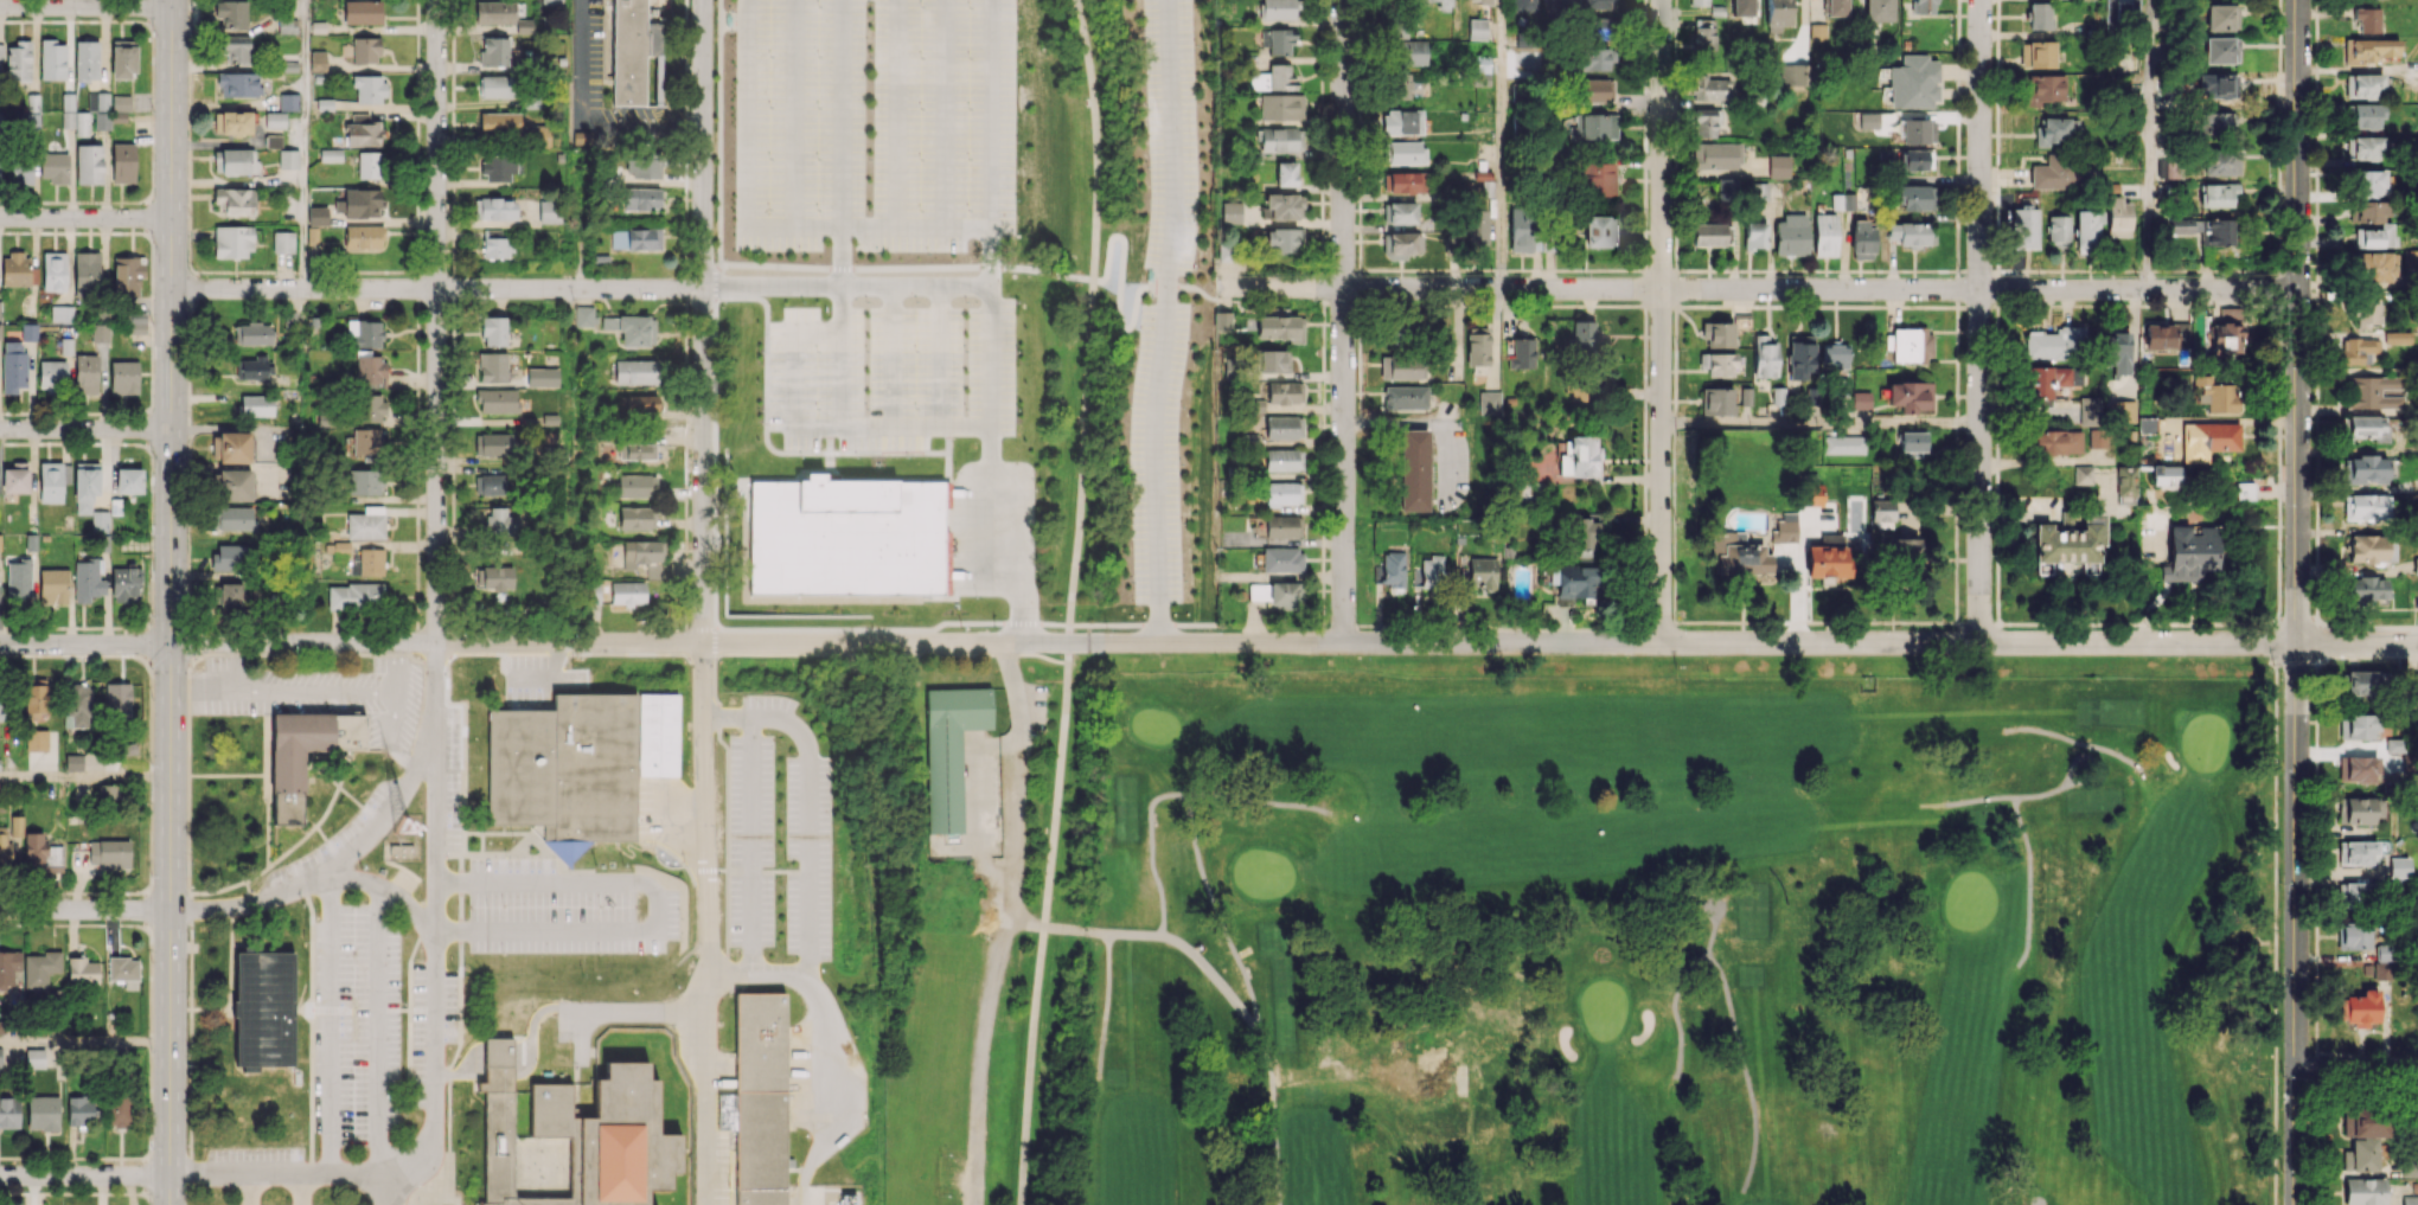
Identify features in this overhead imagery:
building: (551, 1)
building: (1431, 1)
building: (1483, 1)
building: (1699, 2)
building: (1594, 4)
road: (85, 5)
building: (1521, 5)
building: (1926, 6)
building: (1742, 7)
building: (1836, 7)
building: (1278, 9)
building: (1879, 11)
building: (362, 12)
building: (494, 12)
building: (231, 13)
building: (1778, 14)
building: (2115, 14)
building: (2038, 15)
building: (2220, 17)
building: (728, 19)
building: (2367, 19)
building: (287, 26)
building: (1477, 28)
building: (1597, 28)
building: (1817, 32)
building: (1702, 39)
building: (1280, 40)
building: (236, 50)
building: (365, 50)
building: (2220, 50)
building: (2368, 50)
building: (493, 51)
building: (631, 51)
building: (1409, 52)
building: (2036, 53)
building: (123, 58)
building: (52, 59)
building: (1592, 59)
building: (19, 60)
building: (87, 60)
building: (318, 60)
building: (1482, 63)
road: (582, 64)
building: (1792, 73)
building: (1273, 78)
building: (1913, 83)
building: (238, 84)
building: (494, 85)
building: (1401, 85)
building: (2216, 85)
building: (2363, 86)
building: (369, 88)
building: (1709, 89)
building: (2042, 89)
building: (1594, 90)
building: (288, 101)
building: (1281, 107)
building: (98, 109)
building: (32, 111)
road: (747, 113)
road: (793, 113)
road: (896, 114)
road: (942, 114)
building: (2365, 115)
building: (275, 120)
building: (232, 122)
building: (1402, 122)
building: (82, 123)
building: (499, 123)
parking lot: (874, 123)
building: (1704, 123)
building: (2215, 123)
road: (648, 126)
building: (1593, 127)
road: (719, 129)
building: (2055, 130)
building: (1918, 132)
building: (363, 134)
building: (538, 135)
building: (583, 137)
building: (1280, 139)
building: (273, 141)
road: (840, 142)
road: (1502, 143)
road: (305, 145)
road: (2148, 145)
building: (2363, 147)
building: (1403, 152)
building: (330, 154)
building: (1716, 155)
building: (288, 159)
building: (238, 161)
building: (123, 162)
building: (2220, 162)
building: (89, 164)
building: (367, 165)
building: (645, 165)
building: (1778, 166)
building: (55, 167)
building: (497, 167)
building: (2167, 167)
building: (21, 172)
building: (1286, 173)
building: (2051, 173)
building: (1599, 180)
building: (1401, 181)
building: (2367, 182)
building: (1727, 190)
building: (1758, 191)
building: (2216, 194)
building: (641, 197)
building: (1914, 197)
building: (236, 200)
building: (1843, 201)
building: (359, 203)
building: (1285, 205)
building: (494, 209)
building: (549, 211)
building: (1230, 211)
building: (2368, 211)
building: (1399, 212)
building: (316, 216)
building: (2117, 217)
road: (85, 218)
building: (1476, 226)
building: (2180, 226)
road: (868, 227)
building: (2024, 227)
building: (2086, 229)
building: (1523, 230)
building: (2058, 230)
building: (1599, 231)
building: (2214, 231)
road: (990, 232)
building: (1908, 232)
building: (1707, 235)
building: (1754, 235)
building: (1790, 235)
building: (1825, 235)
building: (2374, 236)
building: (363, 237)
building: (635, 238)
building: (1861, 238)
building: (232, 241)
building: (282, 241)
building: (1282, 241)
building: (494, 244)
building: (1400, 244)
building: (2410, 258)
building: (2373, 265)
road: (904, 267)
building: (17, 268)
building: (53, 270)
building: (85, 273)
building: (1151, 274)
building: (128, 275)
road: (715, 280)
road: (1755, 288)
road: (584, 289)
road: (1223, 297)
parking lot: (1163, 302)
building: (60, 312)
building: (2368, 312)
building: (584, 315)
road: (1118, 315)
road: (703, 320)
road: (1089, 320)
road: (1163, 320)
road: (1342, 320)
road: (436, 321)
road: (1662, 321)
road: (1979, 321)
building: (1280, 327)
building: (632, 328)
building: (28, 331)
building: (493, 331)
building: (1401, 331)
building: (2227, 332)
building: (255, 333)
building: (364, 333)
building: (100, 334)
building: (1717, 334)
building: (2166, 335)
building: (1582, 336)
building: (2397, 338)
building: (2055, 342)
building: (1911, 345)
building: (1477, 346)
building: (2358, 350)
building: (1520, 353)
building: (2116, 353)
road: (792, 354)
road: (840, 354)
building: (1835, 354)
road: (891, 355)
road: (939, 355)
building: (1799, 355)
building: (1764, 357)
building: (1273, 360)
building: (1721, 365)
building: (492, 366)
building: (13, 367)
building: (369, 367)
building: (1402, 367)
building: (255, 368)
building: (635, 371)
building: (85, 373)
parking lot: (890, 374)
building: (52, 376)
building: (123, 377)
building: (542, 377)
building: (2052, 379)
building: (1284, 392)
building: (2372, 392)
building: (1576, 393)
building: (2216, 395)
building: (1910, 396)
building: (1405, 397)
building: (1860, 399)
building: (497, 400)
building: (1716, 400)
building: (1489, 402)
building: (256, 405)
building: (637, 405)
building: (1253, 405)
building: (372, 408)
building: (2088, 411)
building: (2120, 411)
road: (1426, 421)
road: (1821, 424)
building: (2145, 424)
road: (890, 425)
building: (1282, 427)
building: (2367, 427)
road: (84, 428)
building: (2213, 436)
building: (2055, 441)
building: (1912, 442)
building: (369, 443)
building: (494, 443)
building: (1844, 444)
building: (234, 447)
building: (637, 450)
road: (715, 453)
road: (830, 455)
building: (1579, 456)
building: (1282, 460)
road: (2042, 460)
building: (2367, 468)
building: (1413, 469)
building: (2083, 474)
building: (2166, 475)
building: (829, 477)
building: (15, 479)
road: (845, 479)
building: (128, 480)
building: (364, 481)
building: (51, 482)
building: (85, 485)
building: (234, 485)
building: (490, 485)
building: (2125, 485)
building: (637, 486)
building: (2244, 491)
building: (1282, 493)
building: (1812, 495)
building: (2366, 507)
building: (1881, 513)
building: (236, 518)
building: (637, 518)
building: (100, 520)
building: (499, 523)
building: (365, 524)
building: (1282, 526)
building: (1785, 527)
building: (1584, 537)
building: (846, 538)
building: (2071, 541)
building: (2369, 549)
building: (2189, 553)
building: (1736, 555)
building: (644, 557)
road: (999, 557)
building: (229, 558)
building: (1281, 559)
building: (1827, 560)
building: (370, 562)
building: (2416, 565)
building: (2058, 568)
building: (1393, 570)
building: (1429, 571)
building: (1482, 572)
building: (491, 577)
building: (19, 579)
building: (87, 581)
building: (1572, 582)
building: (124, 584)
building: (52, 585)
building: (2367, 589)
building: (627, 592)
building: (230, 594)
building: (1284, 595)
building: (354, 596)
road: (171, 602)
road: (2298, 602)
road: (1810, 623)
road: (2347, 629)
road: (1293, 641)
road: (85, 645)
traffic signals: (171, 645)
road: (1005, 648)
road: (570, 654)
road: (314, 655)
road: (740, 655)
road: (565, 659)
road: (232, 668)
road: (396, 668)
parking lot: (537, 677)
road: (531, 678)
building: (2361, 684)
road: (313, 694)
building: (117, 698)
parking lot: (321, 698)
building: (36, 703)
building: (77, 704)
road: (188, 718)
road: (701, 720)
building: (2356, 726)
park: (1154, 731)
road: (268, 735)
building: (655, 735)
road: (392, 737)
road: (2059, 737)
building: (36, 739)
park: (2203, 742)
building: (308, 743)
building: (127, 749)
building: (952, 750)
building: (359, 755)
building: (72, 762)
parking lot: (449, 765)
road: (345, 768)
building: (564, 768)
building: (2358, 768)
road: (322, 774)
road: (229, 776)
road: (85, 777)
road: (485, 790)
building: (107, 793)
road: (435, 795)
road: (1171, 796)
road: (669, 797)
road: (2003, 797)
road: (807, 805)
road: (359, 806)
road: (328, 807)
road: (395, 808)
building: (2359, 809)
road: (268, 822)
road: (705, 832)
road: (676, 833)
road: (188, 834)
road: (454, 835)
road: (507, 835)
building: (8, 838)
parking lot: (335, 844)
road: (328, 845)
road: (474, 846)
road: (748, 846)
road: (293, 847)
building: (402, 847)
building: (2356, 852)
building: (108, 853)
building: (41, 857)
road: (537, 861)
building: (2398, 866)
road: (588, 872)
park: (1261, 873)
road: (256, 874)
road: (479, 874)
road: (316, 879)
road: (616, 880)
road: (2029, 884)
road: (217, 890)
road: (249, 892)
road: (458, 892)
road: (529, 892)
building: (2352, 893)
park: (1970, 899)
road: (85, 909)
road: (2275, 912)
road: (1002, 919)
parking lot: (571, 921)
road: (708, 921)
road: (1043, 923)
road: (622, 935)
building: (2353, 935)
park: (1671, 942)
road: (312, 946)
road: (417, 947)
road: (190, 949)
road: (462, 949)
road: (538, 953)
road: (229, 957)
road: (436, 964)
road: (997, 966)
building: (9, 967)
building: (39, 969)
building: (82, 970)
building: (123, 970)
road: (500, 970)
road: (623, 970)
building: (2380, 970)
road: (813, 986)
road: (1680, 987)
road: (410, 988)
road: (709, 994)
road: (1249, 996)
building: (264, 1007)
road: (303, 1007)
building: (2361, 1007)
road: (211, 1008)
road: (1105, 1008)
park: (1603, 1008)
road: (395, 1011)
road: (645, 1011)
road: (532, 1020)
parking lot: (431, 1024)
road: (331, 1025)
parking lot: (356, 1025)
road: (378, 1030)
road: (85, 1041)
road: (519, 1057)
building: (34, 1058)
road: (410, 1059)
road: (582, 1060)
road: (1744, 1071)
road: (472, 1073)
road: (2358, 1073)
building: (298, 1076)
road: (448, 1083)
road: (312, 1085)
road: (818, 1085)
building: (760, 1100)
road: (191, 1107)
road: (710, 1108)
building: (8, 1111)
building: (79, 1111)
building: (117, 1111)
building: (43, 1113)
building: (2365, 1123)
building: (583, 1134)
road: (824, 1145)
building: (2360, 1155)
parking lot: (254, 1160)
road: (251, 1162)
road: (312, 1168)
road: (405, 1171)
road: (85, 1175)
road: (250, 1190)
road: (301, 1190)
road: (383, 1190)
road: (390, 1190)
building: (2363, 1191)
building: (851, 1199)
building: (2409, 1200)

